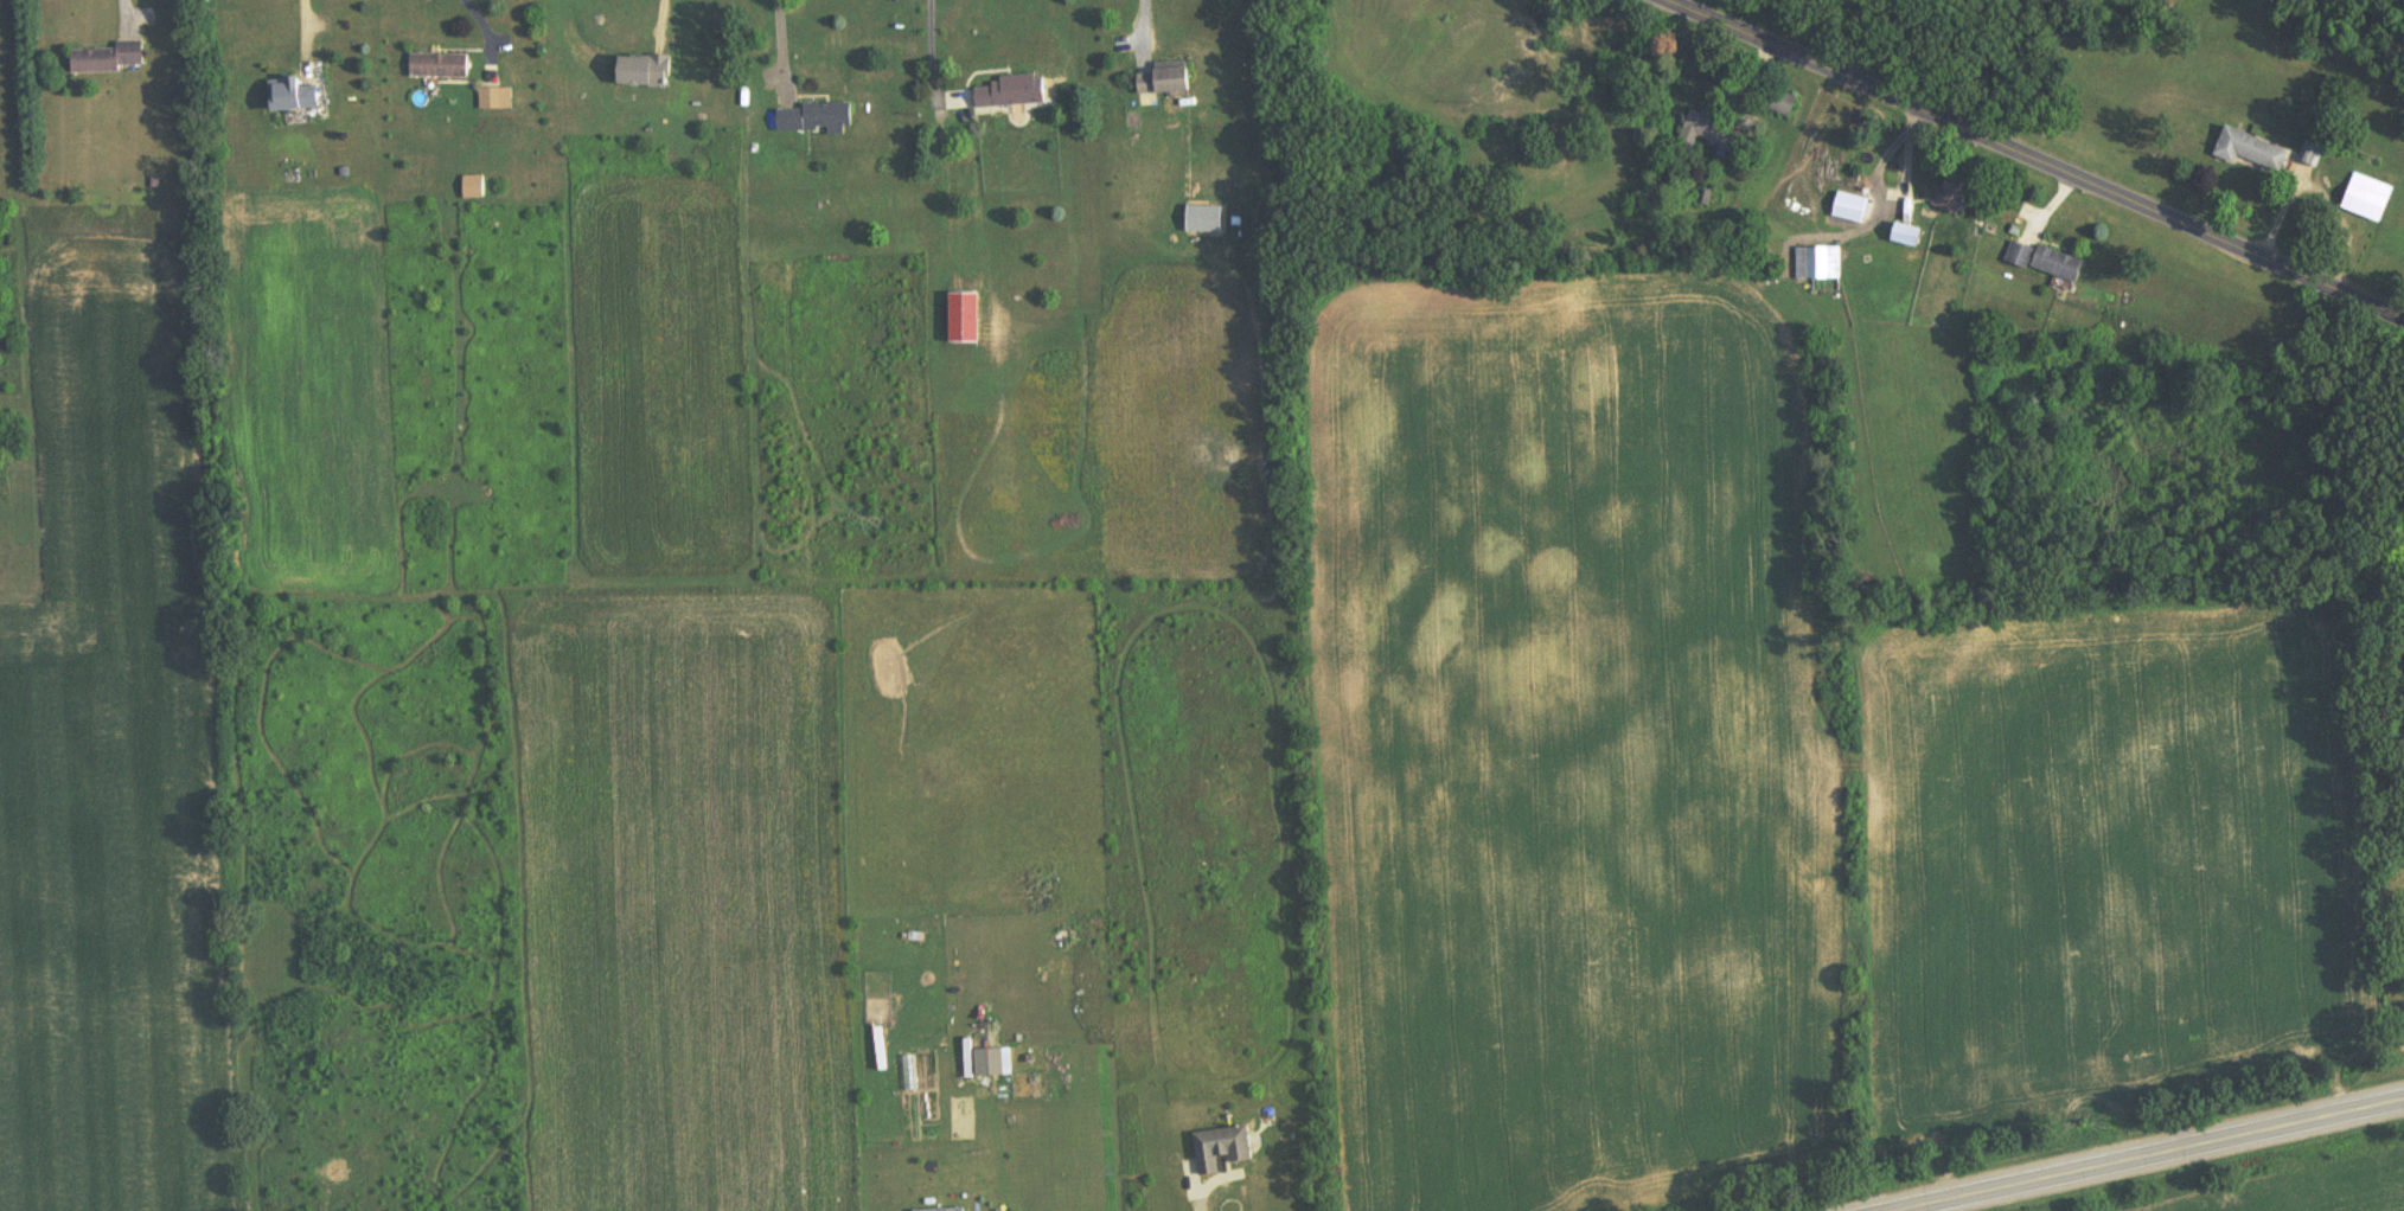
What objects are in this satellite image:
road: (121, 2)
road: (659, 2)
road: (1142, 11)
road: (303, 20)
road: (781, 38)
building: (107, 60)
road: (932, 65)
building: (439, 66)
building: (644, 72)
building: (1164, 81)
building: (1012, 94)
building: (292, 96)
building: (495, 100)
building: (1783, 105)
building: (816, 120)
building: (1709, 133)
building: (2251, 152)
road: (2041, 155)
building: (2313, 156)
building: (473, 188)
building: (1954, 196)
building: (2368, 200)
building: (1906, 236)
building: (2019, 256)
building: (1818, 264)
building: (2057, 265)
building: (990, 1064)
road: (2400, 1088)
road: (2105, 1141)
building: (1222, 1151)

